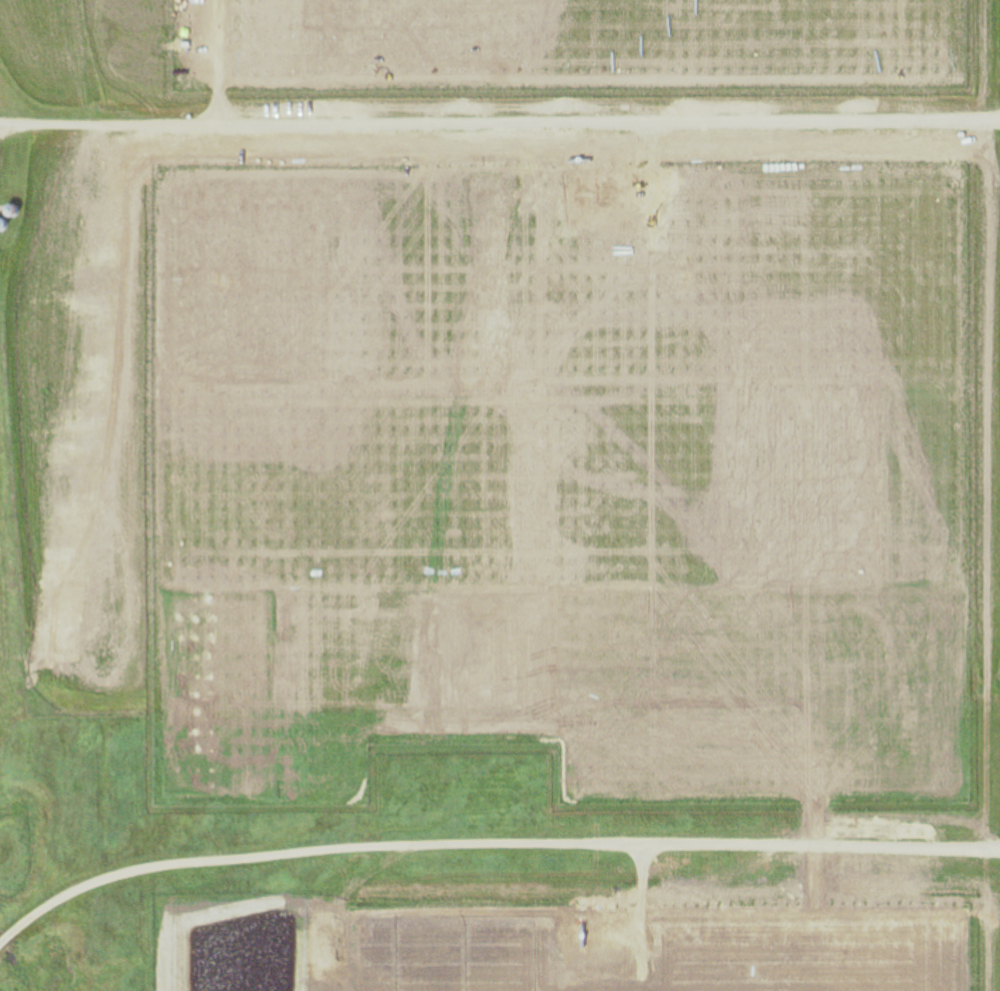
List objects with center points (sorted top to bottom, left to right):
road: (500, 127)
road: (486, 850)

